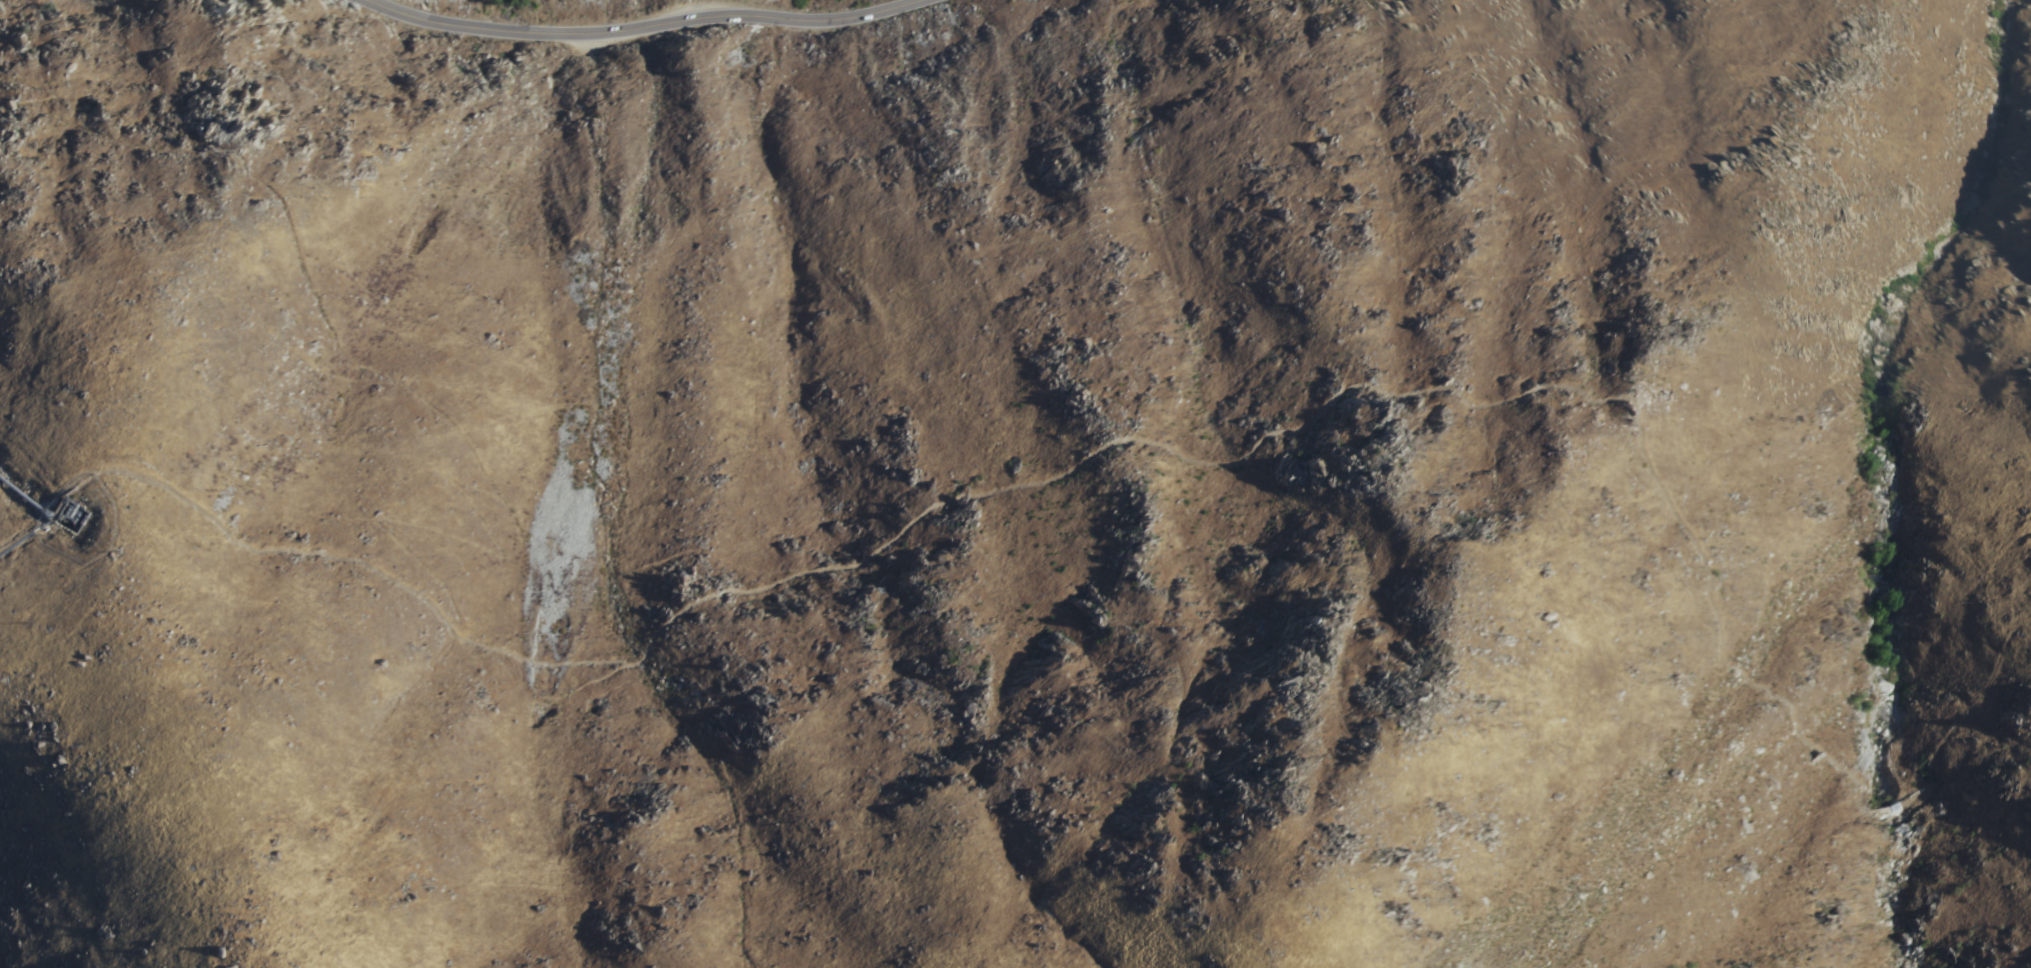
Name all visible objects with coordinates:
road: (649, 24)
building: (71, 519)

